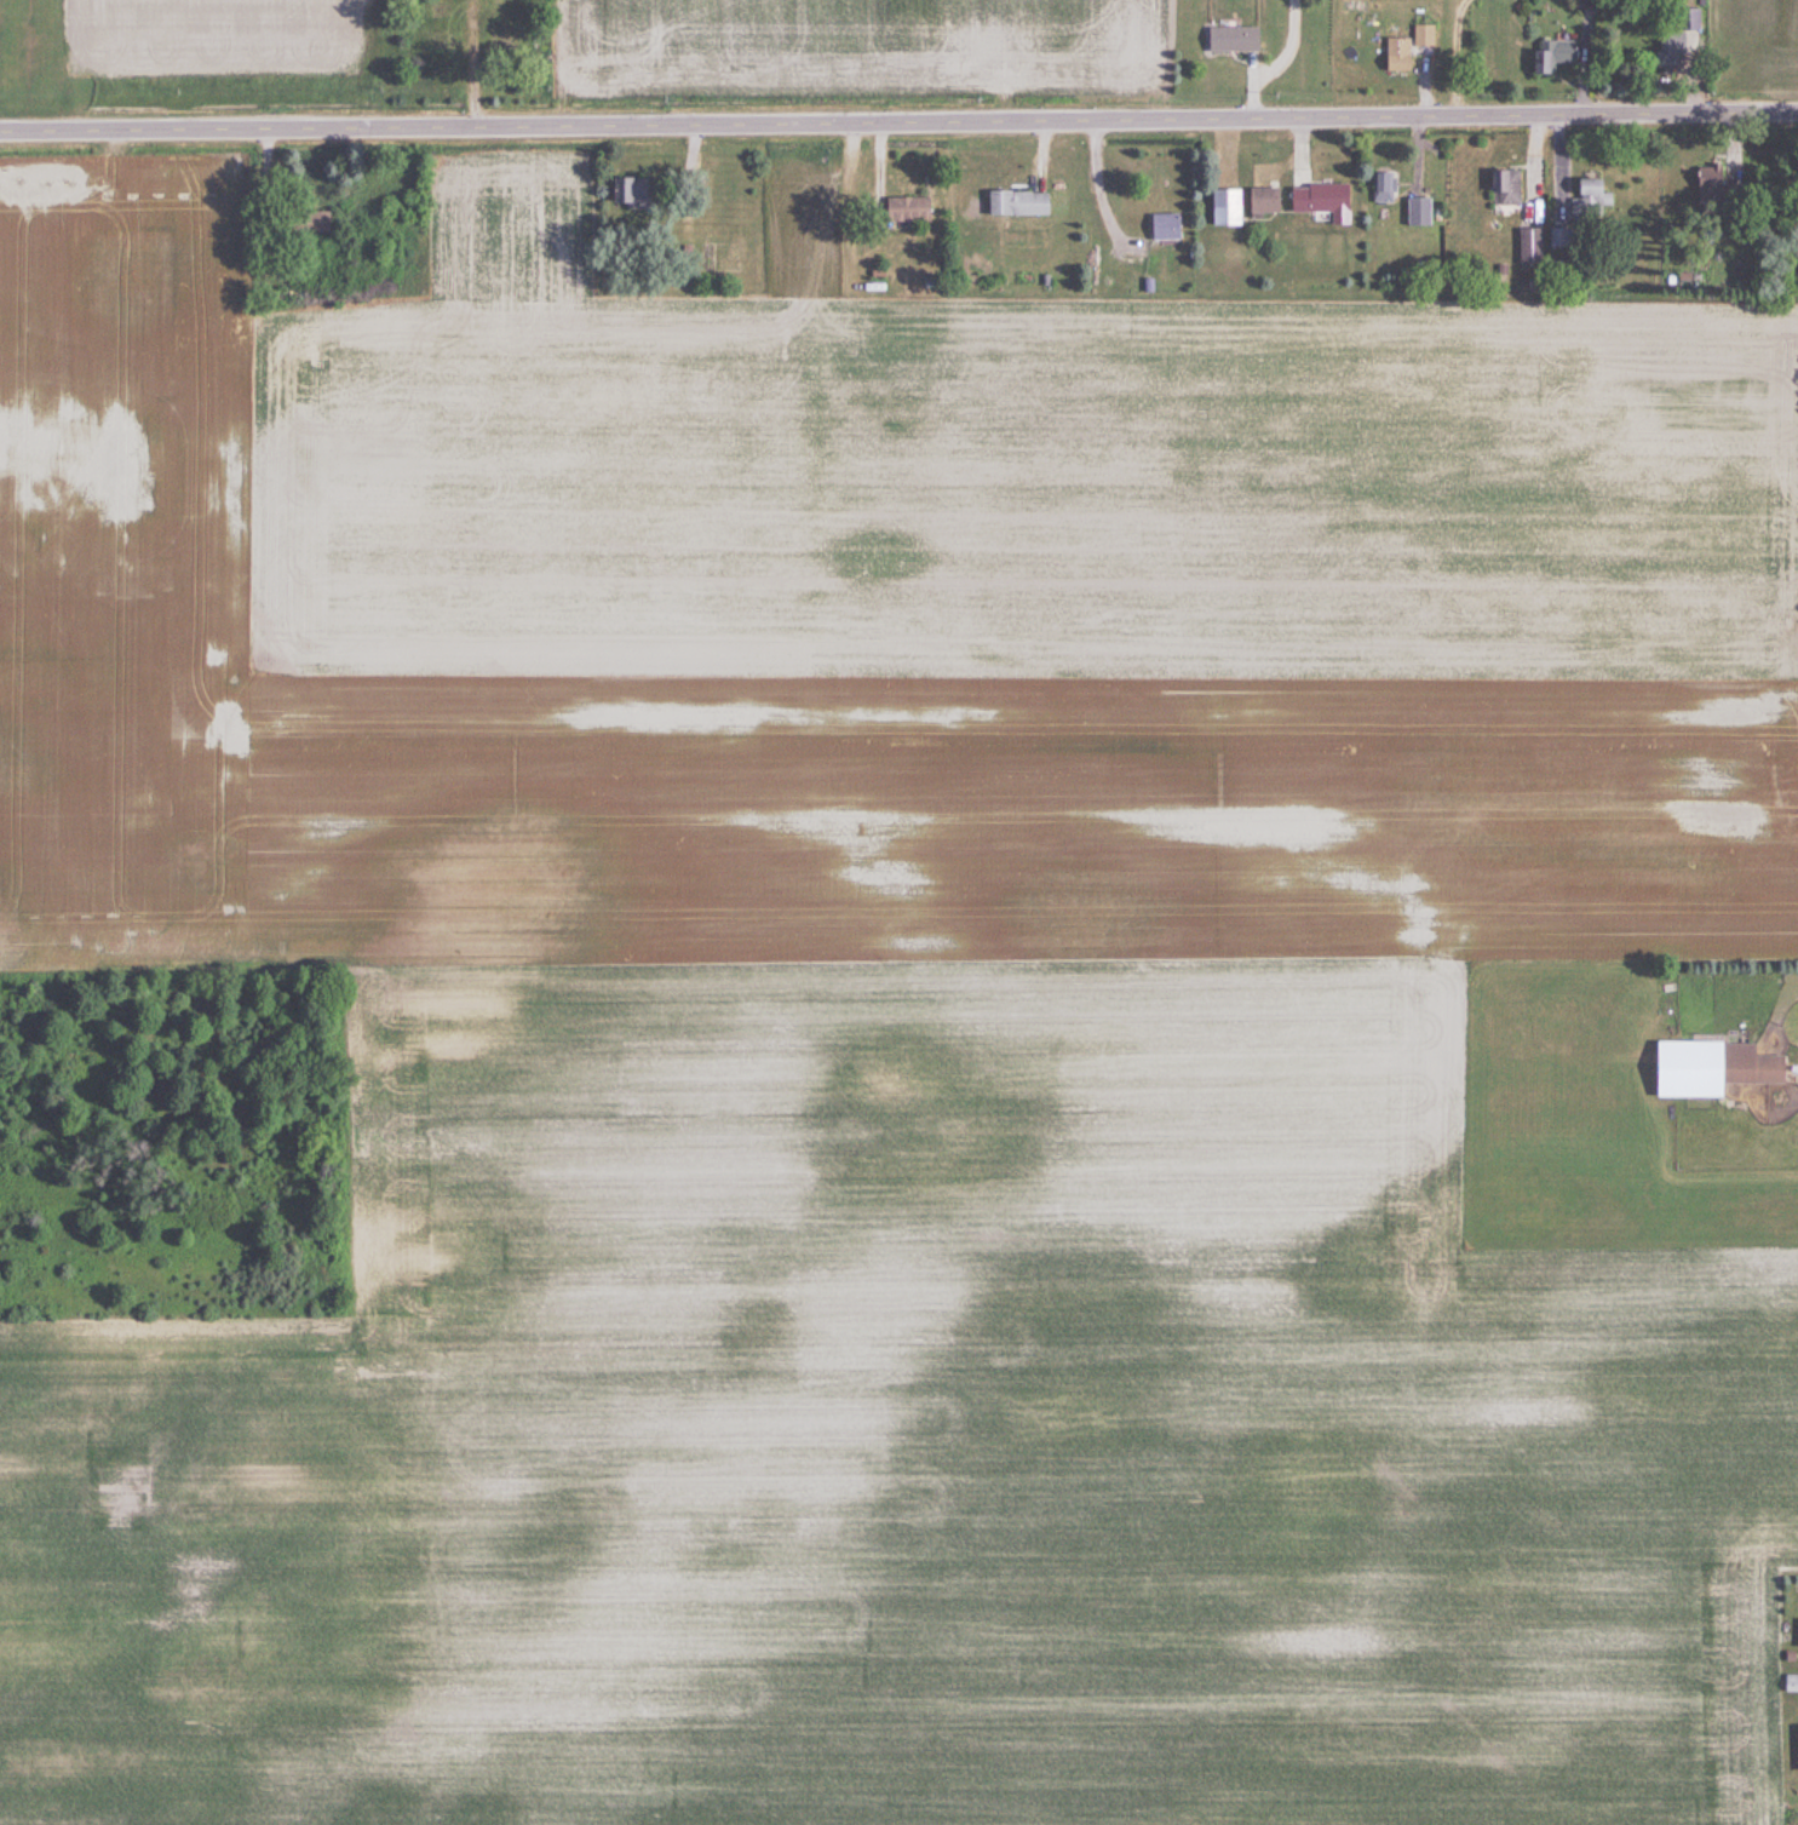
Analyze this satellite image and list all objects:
building: (498, 5)
building: (440, 13)
building: (1687, 22)
building: (1421, 36)
building: (1229, 40)
building: (500, 42)
building: (440, 44)
building: (1395, 56)
building: (1551, 58)
road: (898, 119)
building: (1707, 179)
building: (1381, 189)
building: (1503, 189)
building: (627, 194)
building: (1591, 199)
building: (1260, 202)
building: (1320, 202)
building: (1016, 205)
building: (1224, 208)
building: (903, 211)
building: (1415, 213)
building: (303, 224)
building: (1162, 228)
building: (1557, 240)
building: (1529, 248)
building: (1708, 1068)
building: (1790, 1683)

